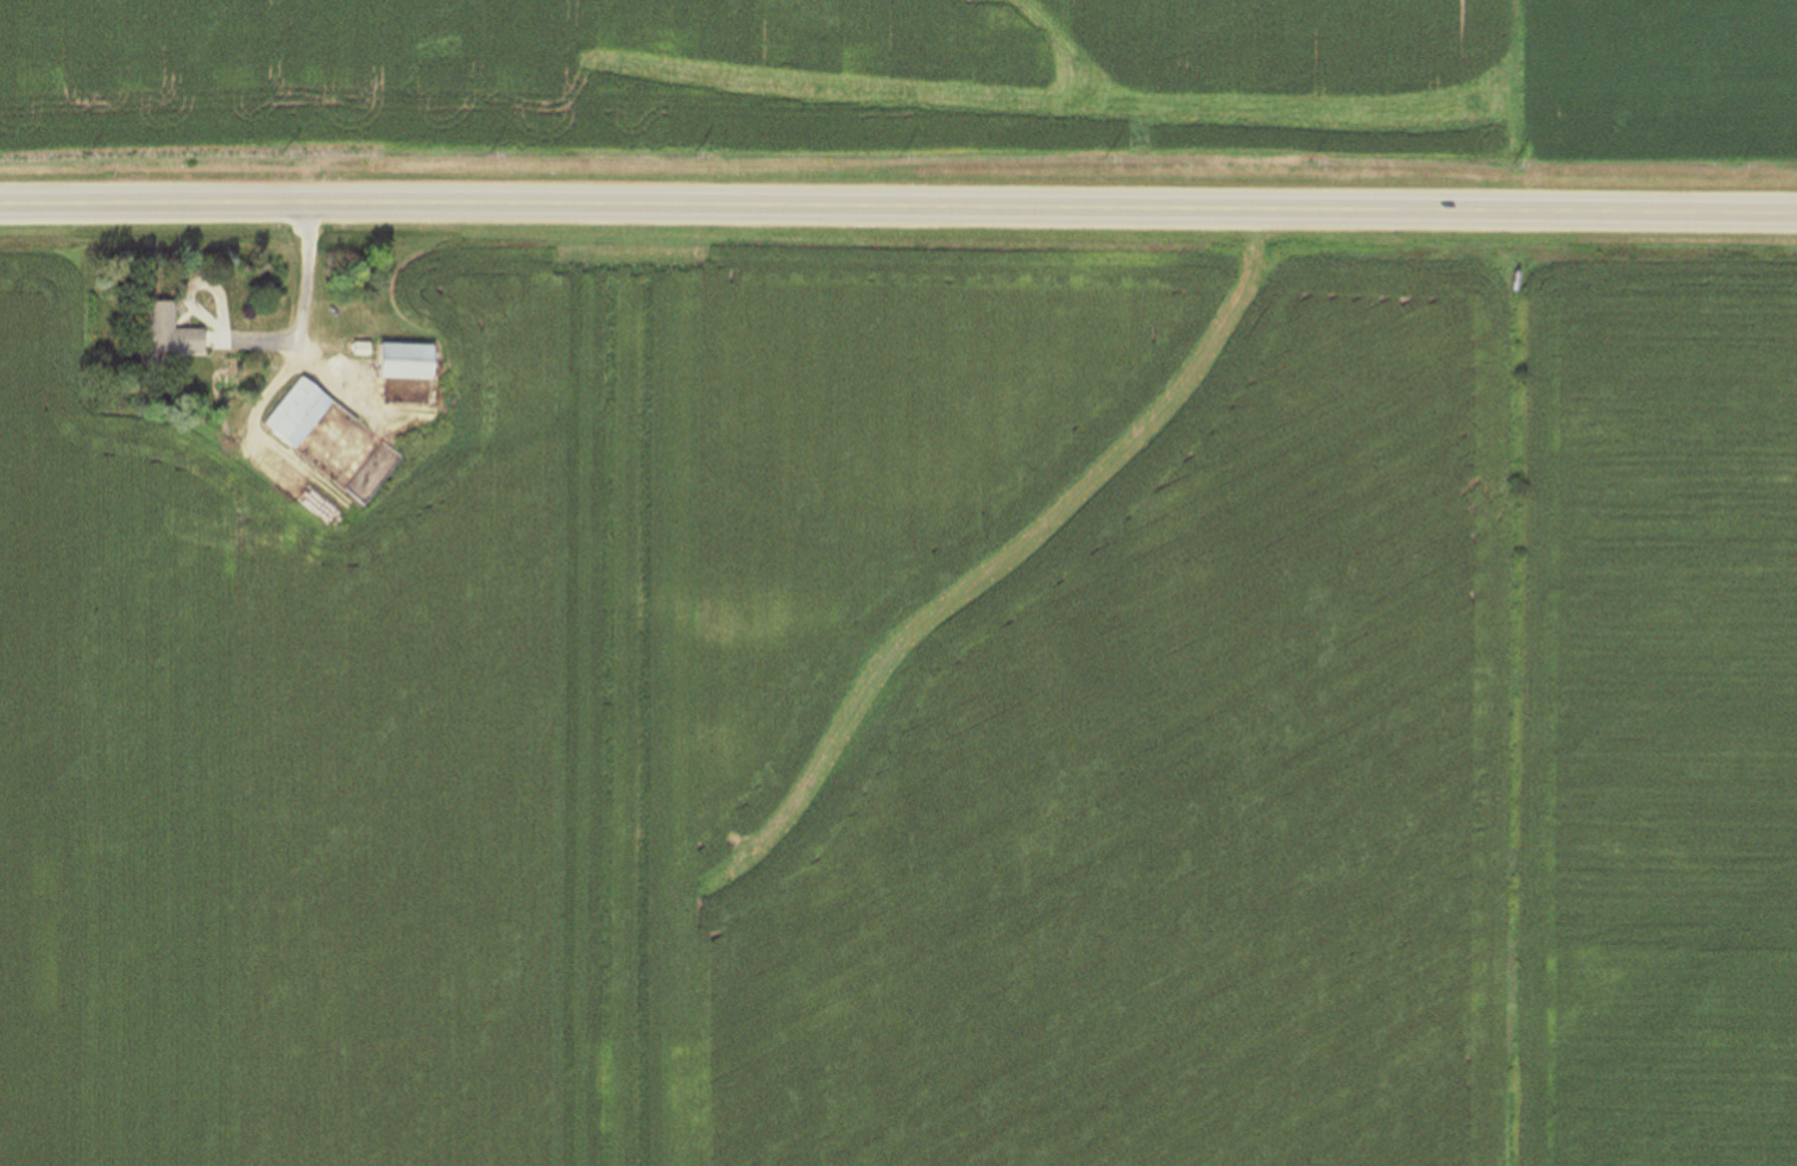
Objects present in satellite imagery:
road: (897, 206)
building: (171, 334)
building: (410, 363)
building: (301, 414)

